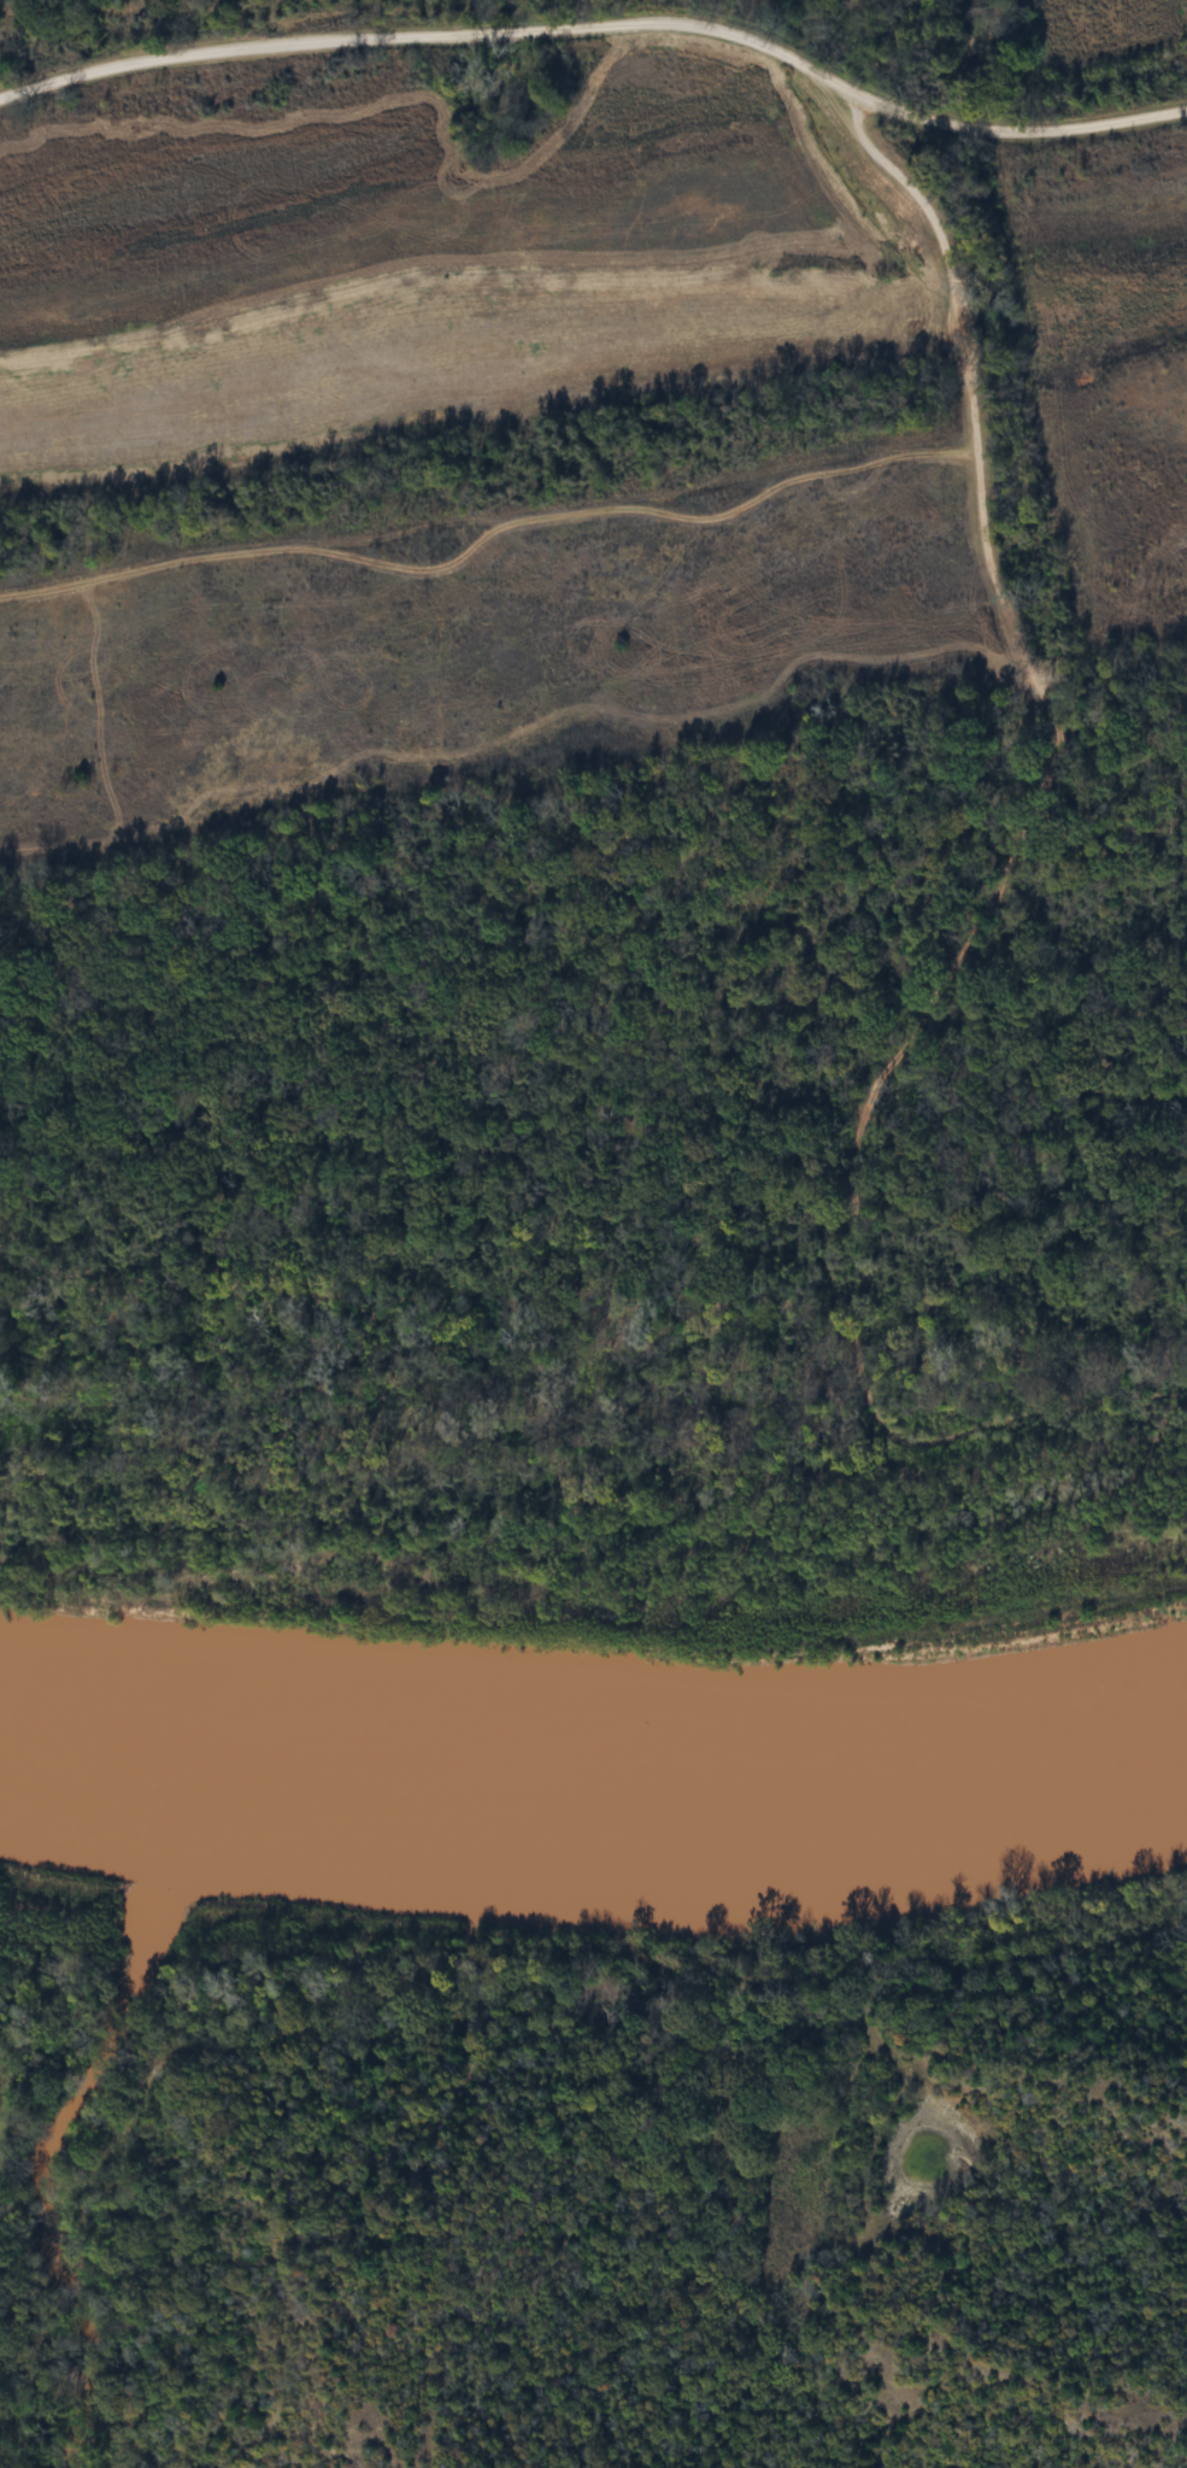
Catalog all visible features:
road: (600, 23)
river: (594, 1723)

